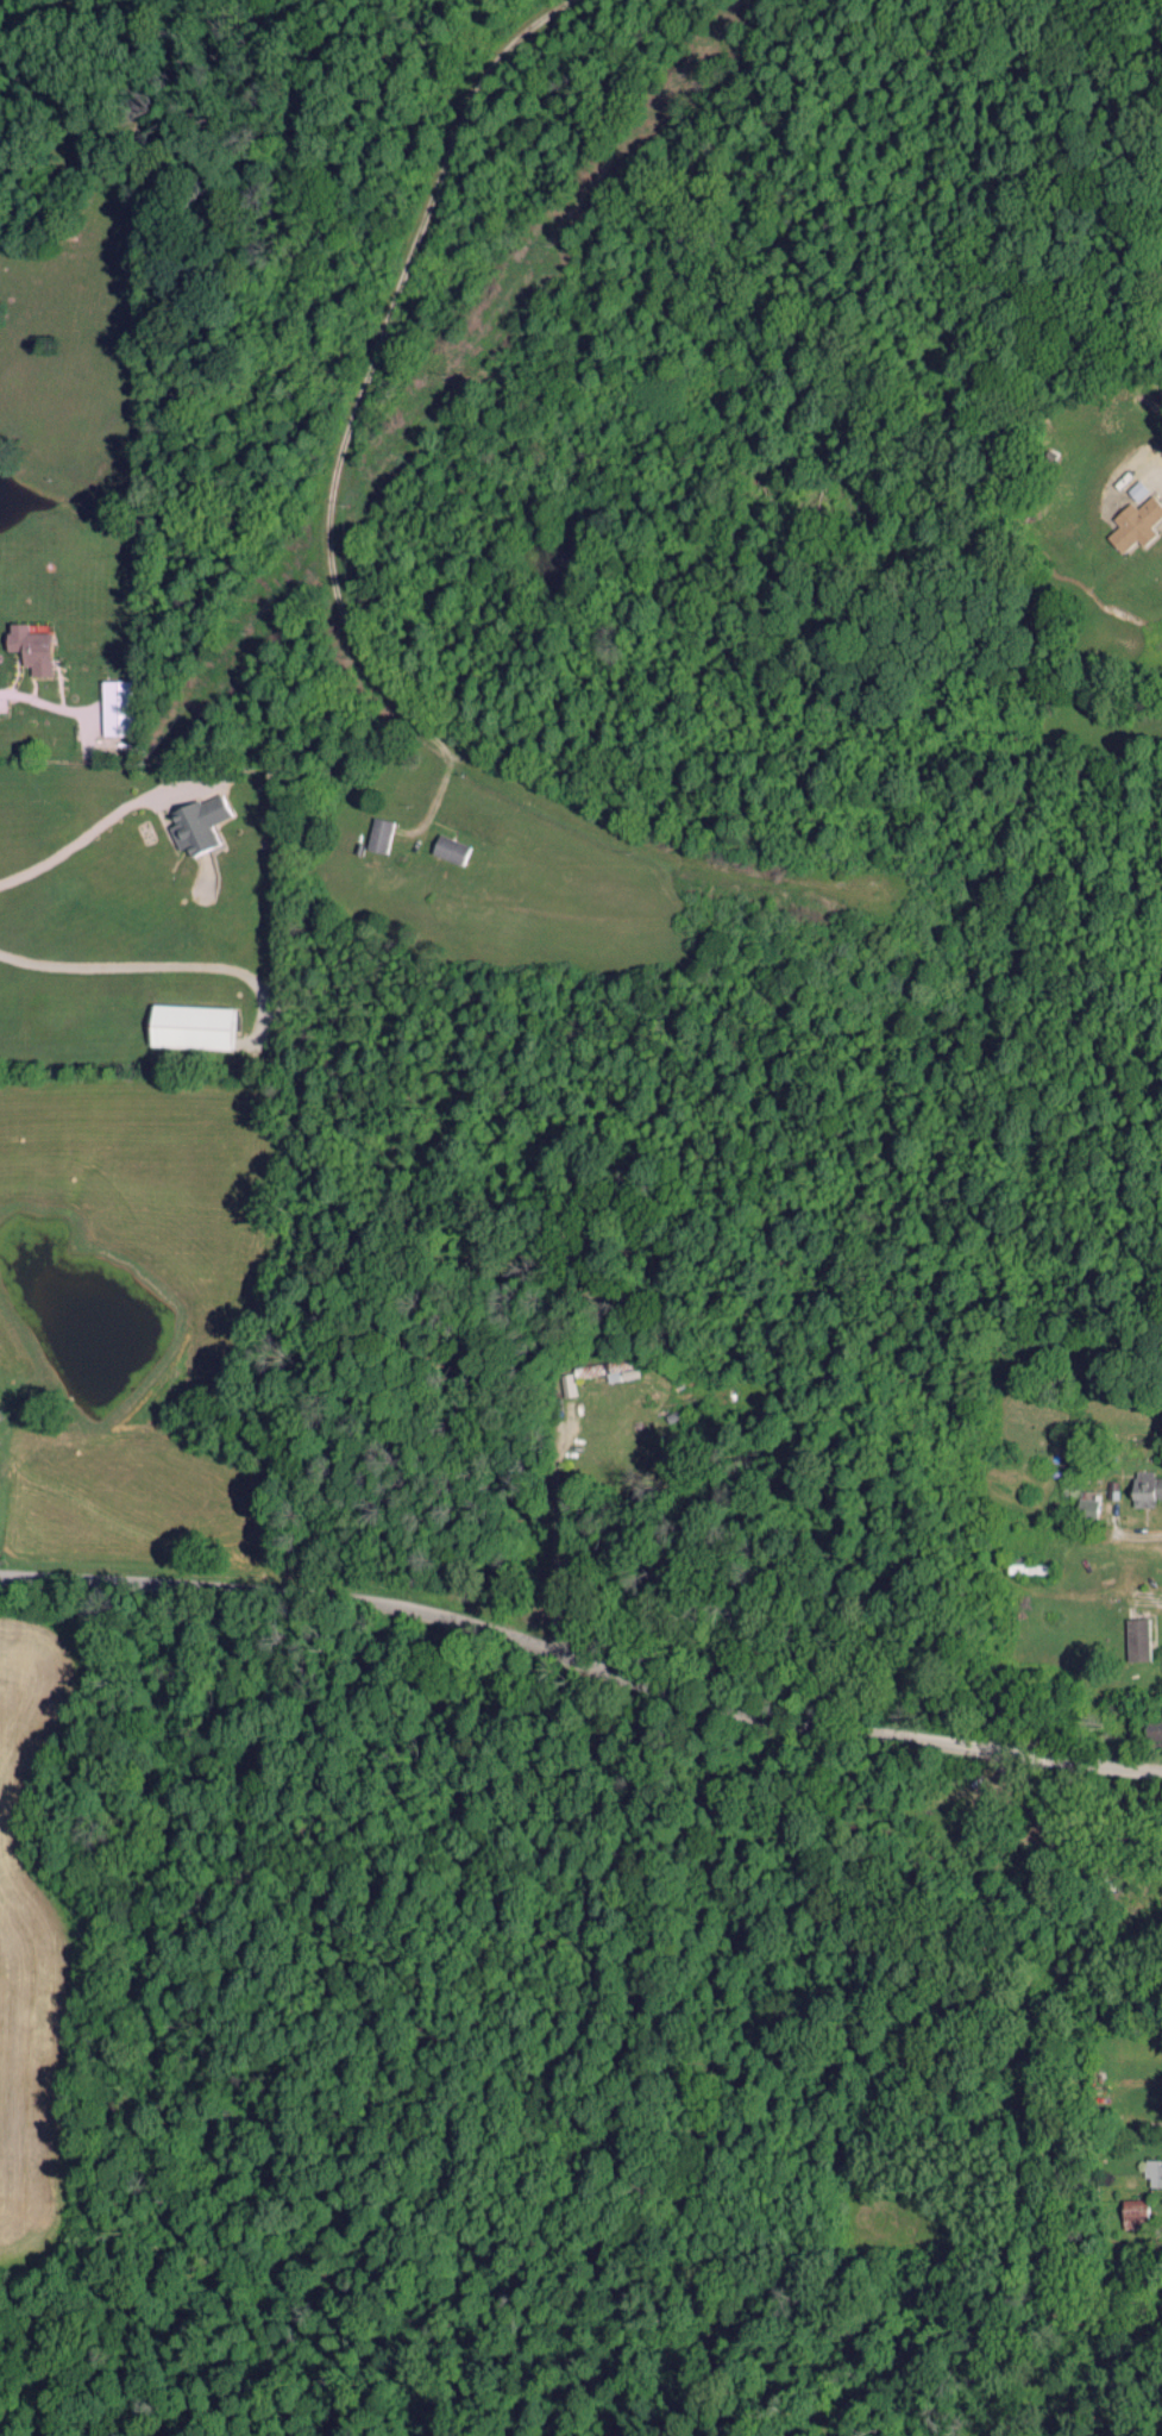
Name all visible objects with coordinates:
road: (373, 364)
building: (1135, 489)
building: (1133, 522)
building: (27, 647)
building: (112, 707)
building: (194, 822)
building: (377, 834)
building: (446, 848)
building: (189, 1026)
building: (613, 1373)
building: (1145, 1488)
building: (1085, 1508)
road: (1126, 1533)
building: (1135, 1639)
road: (580, 1662)
building: (1152, 1727)
building: (1152, 2172)
building: (1139, 2213)

